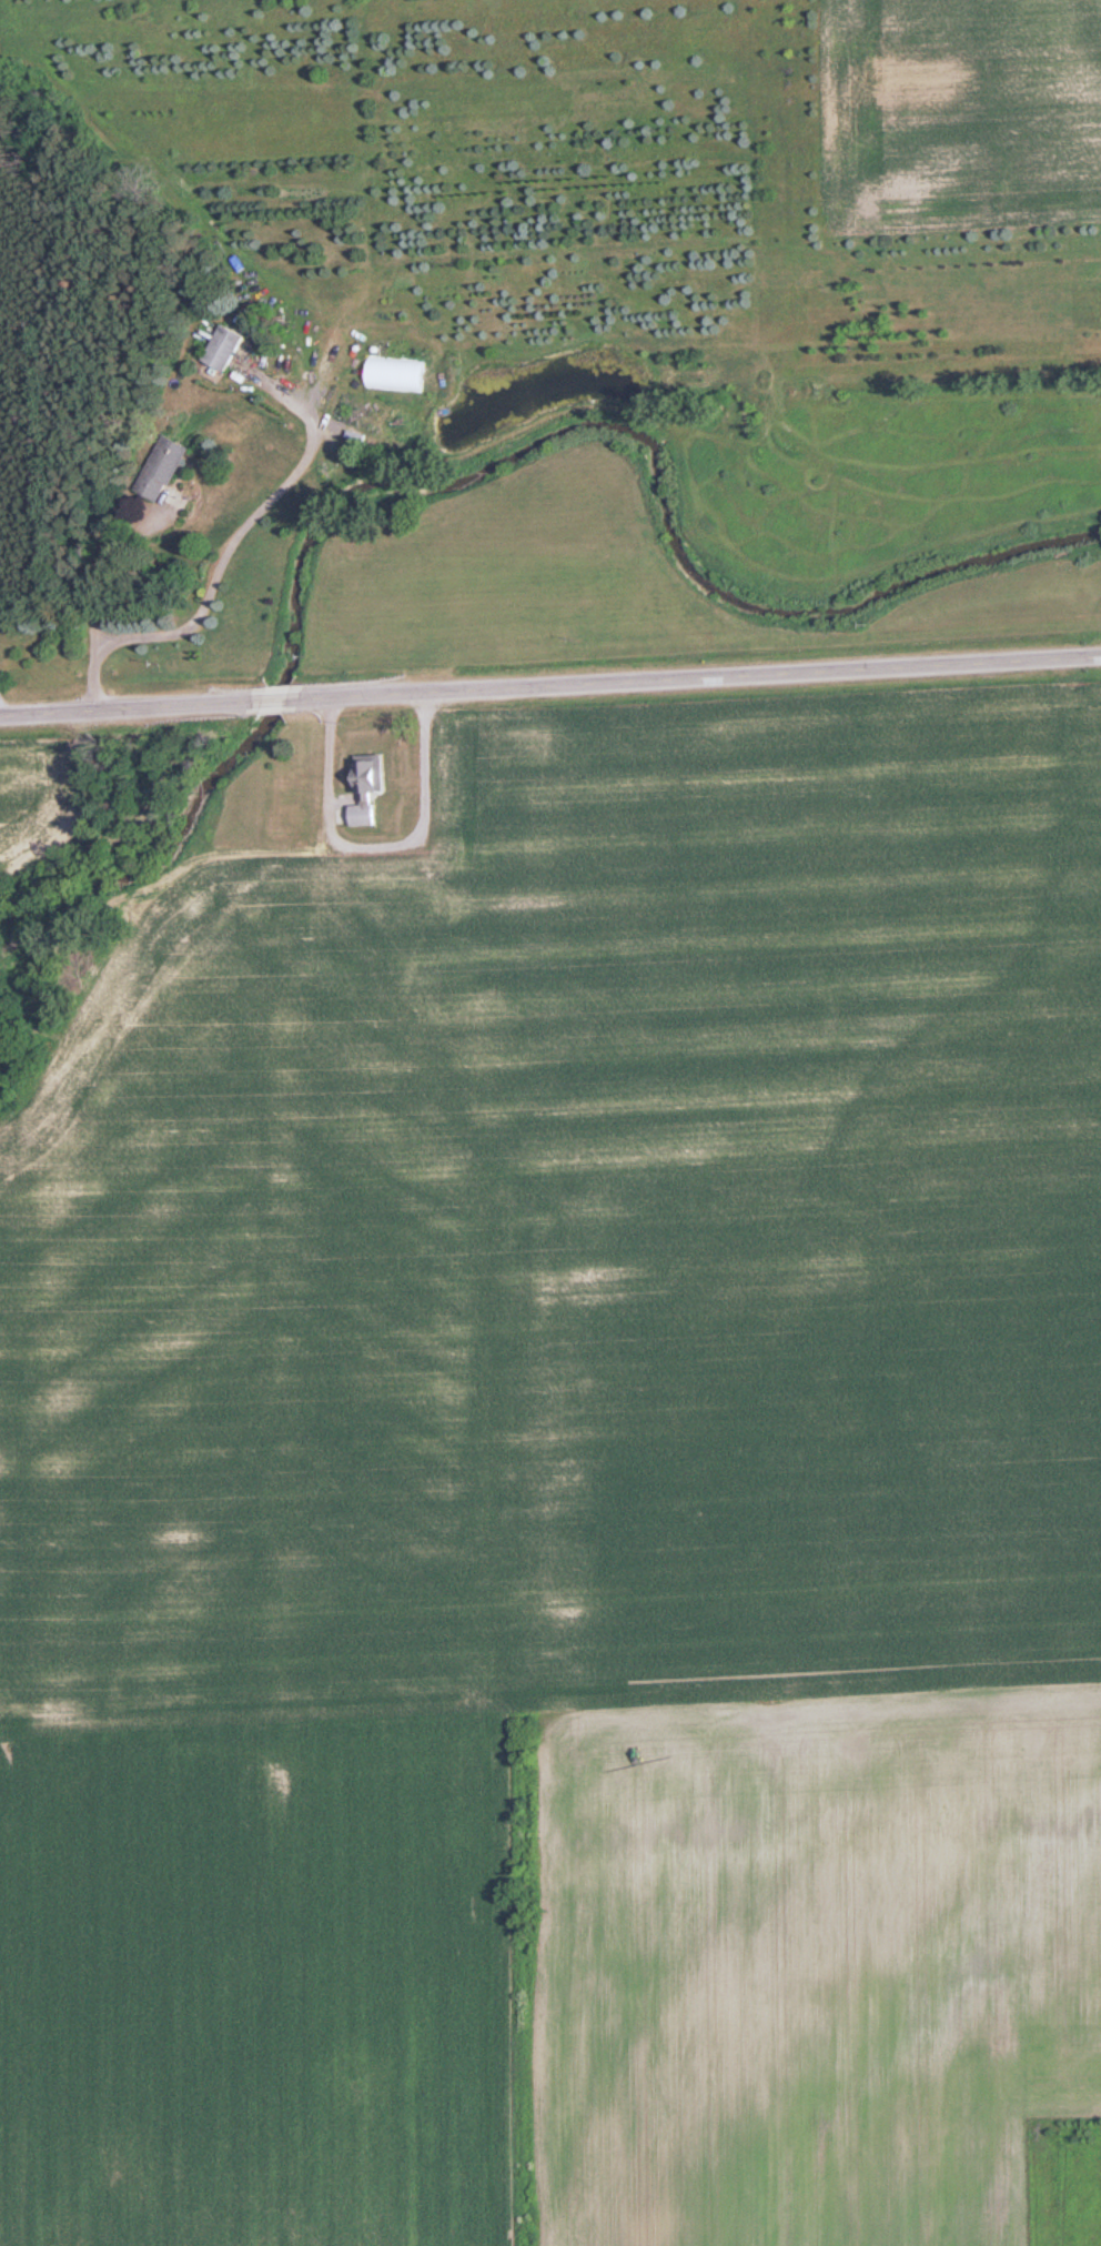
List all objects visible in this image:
building: (224, 348)
building: (397, 374)
building: (163, 469)
road: (91, 597)
road: (549, 686)
building: (371, 789)

